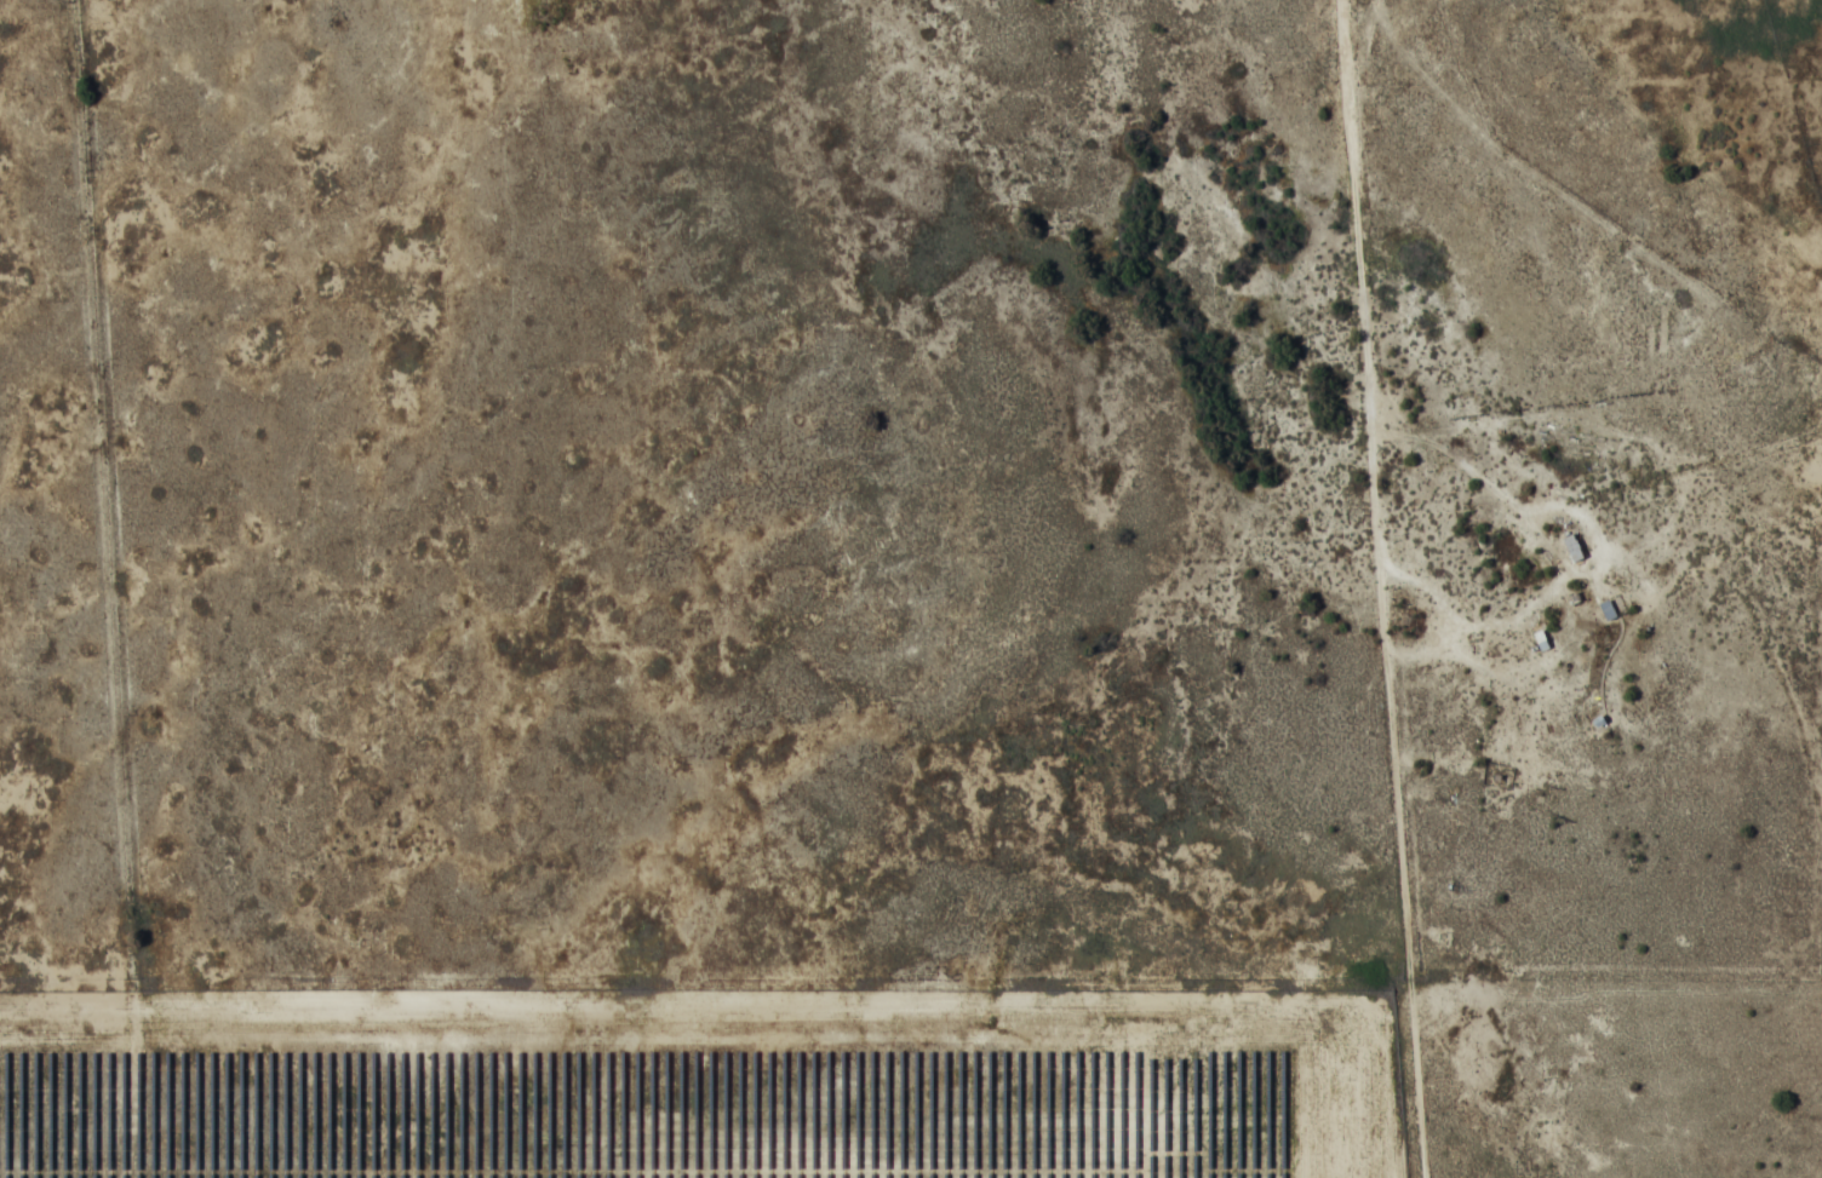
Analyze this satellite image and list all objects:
road: (918, 239)
road: (144, 343)
road: (425, 350)
road: (1382, 587)
solar farm: (674, 1110)

